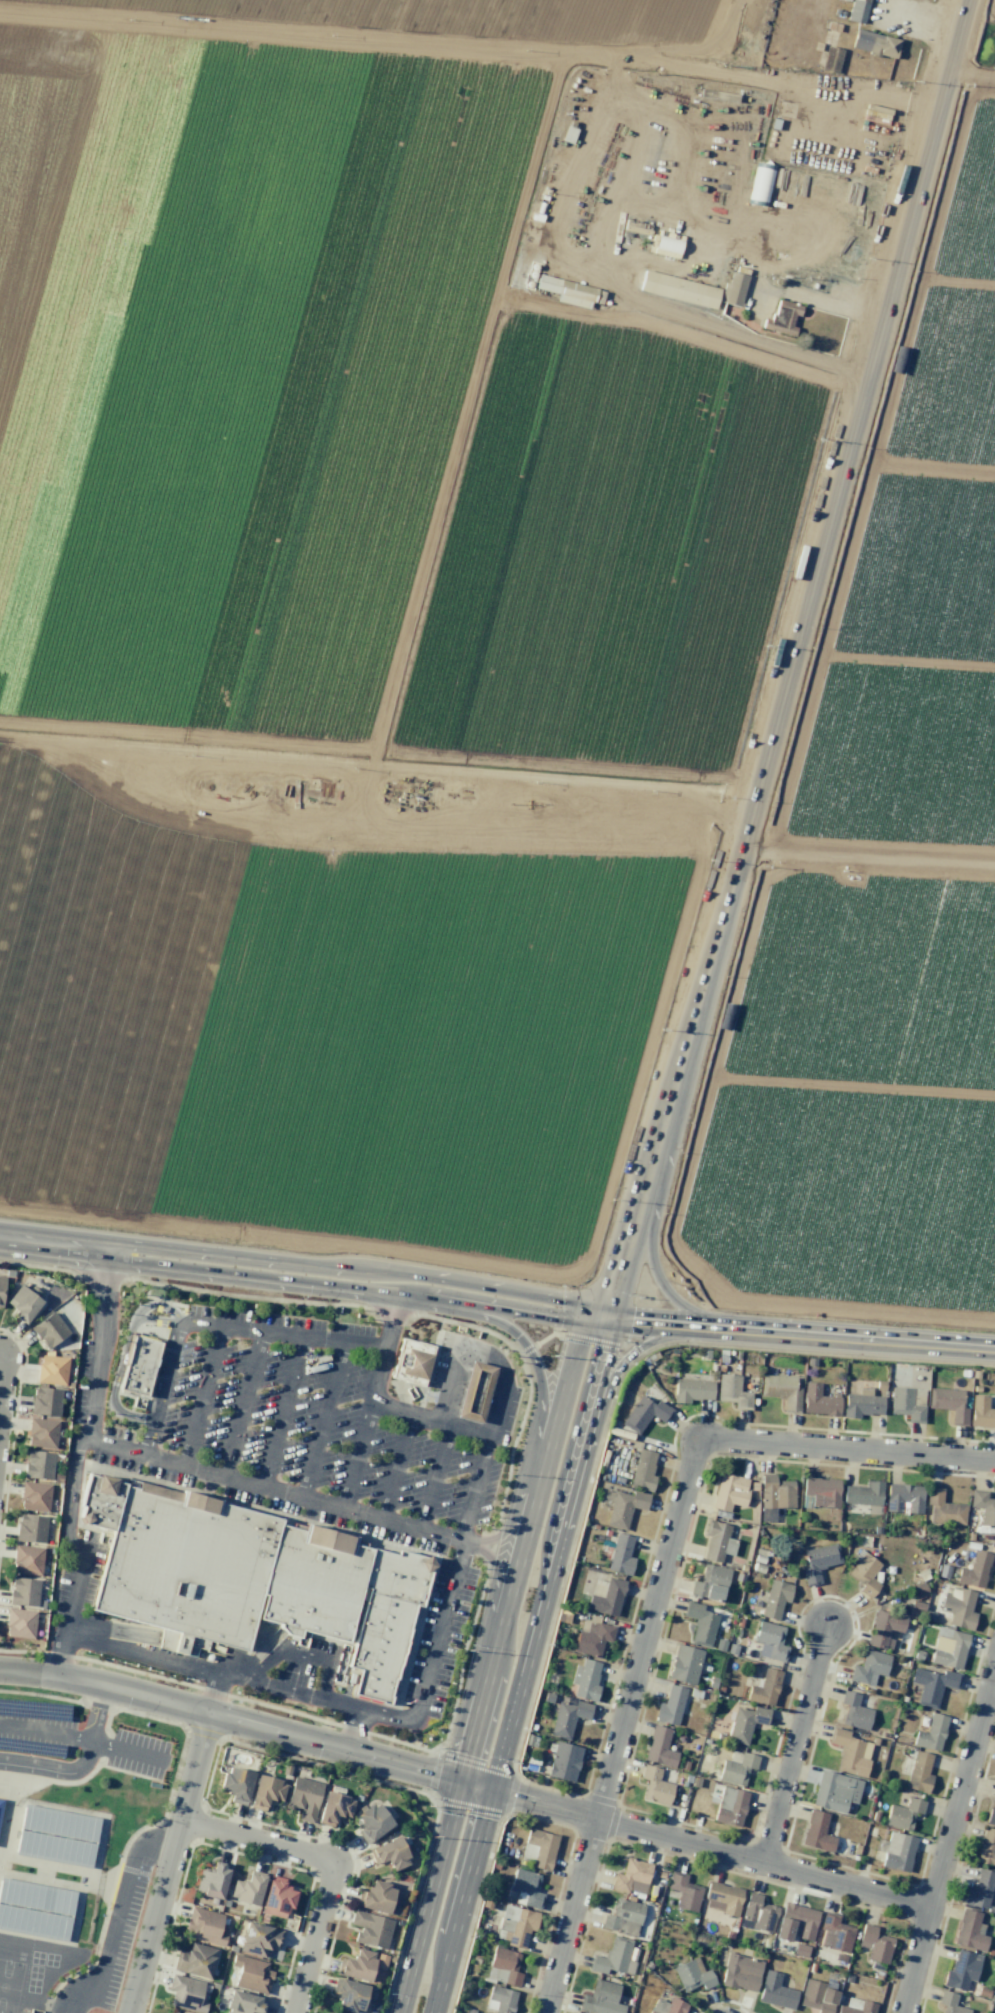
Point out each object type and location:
building: (858, 10)
building: (874, 43)
building: (831, 59)
road: (971, 74)
road: (577, 157)
building: (760, 184)
building: (669, 245)
building: (679, 289)
building: (735, 289)
building: (567, 291)
building: (782, 317)
crop: (348, 624)
road: (791, 659)
crop: (883, 865)
road: (650, 1241)
building: (1, 1289)
road: (106, 1297)
road: (497, 1298)
building: (23, 1304)
traffic signals: (604, 1315)
road: (392, 1318)
road: (218, 1328)
building: (49, 1330)
road: (651, 1341)
road: (533, 1359)
building: (410, 1361)
road: (458, 1362)
building: (140, 1364)
building: (51, 1370)
road: (3, 1383)
building: (692, 1390)
building: (781, 1390)
building: (732, 1391)
building: (476, 1392)
road: (203, 1396)
building: (818, 1400)
building: (45, 1401)
building: (862, 1403)
building: (907, 1403)
building: (948, 1403)
road: (241, 1404)
road: (282, 1412)
building: (981, 1412)
building: (644, 1413)
road: (322, 1420)
road: (429, 1421)
road: (364, 1429)
building: (41, 1432)
road: (848, 1448)
building: (38, 1464)
road: (395, 1467)
building: (643, 1470)
road: (434, 1478)
road: (276, 1489)
building: (729, 1491)
building: (821, 1491)
building: (863, 1493)
building: (34, 1496)
building: (774, 1496)
building: (903, 1498)
building: (983, 1506)
building: (625, 1507)
building: (943, 1509)
building: (31, 1528)
road: (506, 1531)
building: (717, 1541)
building: (620, 1555)
building: (27, 1559)
road: (492, 1559)
building: (818, 1561)
building: (974, 1570)
building: (864, 1574)
building: (260, 1581)
building: (710, 1582)
building: (23, 1591)
building: (605, 1596)
building: (775, 1598)
building: (958, 1608)
building: (19, 1623)
building: (700, 1624)
building: (883, 1629)
building: (592, 1639)
building: (770, 1641)
building: (948, 1648)
road: (60, 1654)
road: (303, 1655)
road: (492, 1658)
road: (525, 1664)
building: (684, 1664)
building: (869, 1667)
building: (585, 1679)
road: (266, 1684)
building: (932, 1685)
building: (764, 1688)
road: (213, 1692)
building: (670, 1706)
building: (854, 1711)
building: (568, 1717)
road: (247, 1722)
building: (745, 1723)
road: (623, 1727)
road: (353, 1729)
building: (930, 1733)
road: (83, 1741)
road: (797, 1744)
building: (659, 1747)
building: (850, 1752)
building: (564, 1761)
road: (81, 1766)
building: (736, 1767)
building: (919, 1772)
traffic signals: (460, 1781)
building: (235, 1783)
building: (655, 1786)
traffic signals: (493, 1789)
building: (266, 1791)
building: (835, 1791)
building: (304, 1797)
building: (1, 1805)
building: (730, 1806)
building: (333, 1808)
building: (992, 1813)
building: (903, 1814)
building: (372, 1822)
building: (60, 1823)
building: (816, 1832)
road: (159, 1834)
road: (949, 1845)
building: (55, 1848)
building: (539, 1848)
road: (712, 1848)
building: (986, 1848)
building: (898, 1851)
building: (390, 1854)
road: (168, 1862)
road: (327, 1865)
building: (632, 1877)
building: (212, 1881)
building: (526, 1888)
building: (247, 1889)
building: (979, 1889)
building: (684, 1891)
building: (36, 1896)
building: (277, 1896)
building: (376, 1897)
building: (722, 1898)
building: (757, 1914)
building: (623, 1917)
building: (35, 1922)
building: (795, 1922)
building: (516, 1925)
building: (205, 1926)
road: (117, 1929)
building: (370, 1929)
building: (970, 1931)
building: (835, 1933)
building: (259, 1939)
building: (874, 1944)
building: (614, 1957)
building: (194, 1960)
building: (357, 1965)
building: (505, 1966)
building: (961, 1970)
building: (741, 1972)
building: (251, 1974)
building: (692, 1975)
building: (775, 1991)
building: (186, 1993)
building: (349, 1995)
building: (817, 1996)
building: (601, 1998)
building: (500, 1999)
building: (243, 2002)
road: (72, 2003)
building: (949, 2003)
building: (667, 2006)
building: (855, 2006)
building: (173, 2012)

